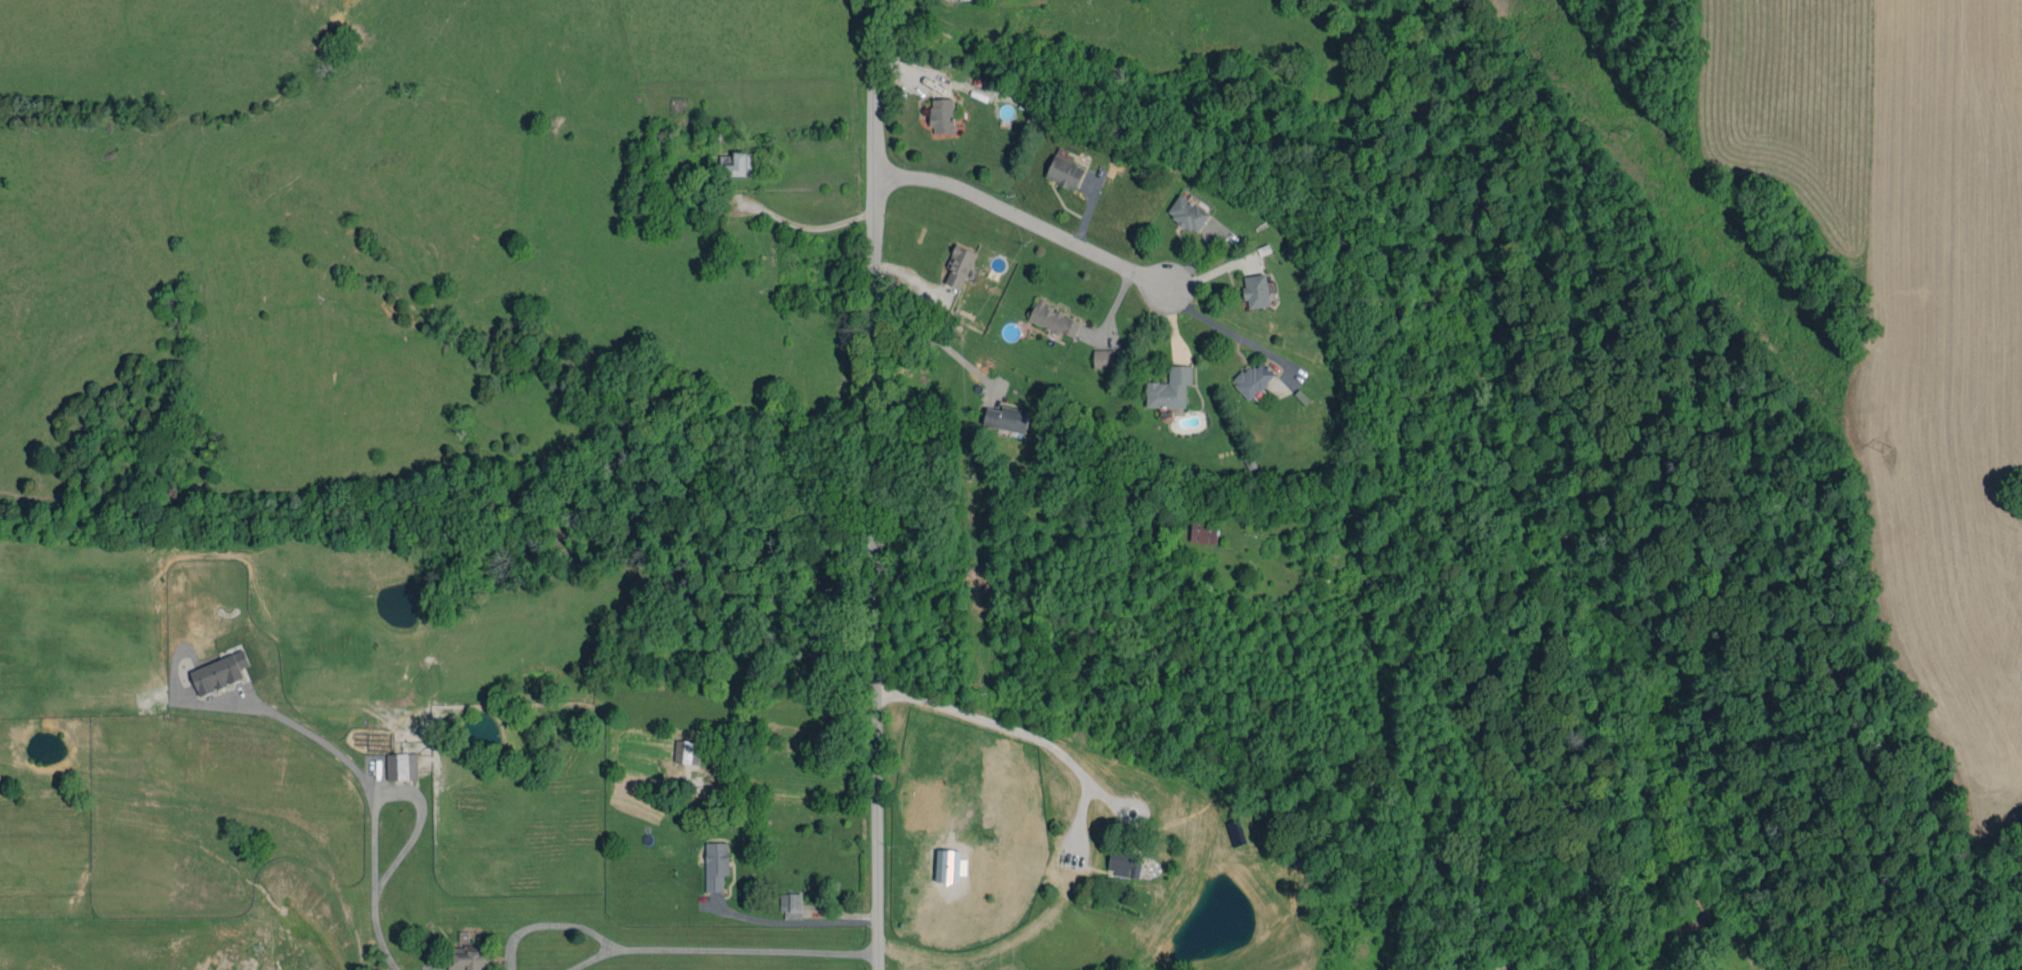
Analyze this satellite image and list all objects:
building: (1030, 107)
building: (942, 115)
power tower: (1626, 131)
building: (736, 164)
building: (1065, 172)
building: (1187, 213)
road: (1031, 223)
road: (804, 230)
building: (959, 266)
building: (1256, 291)
building: (1053, 320)
road: (928, 335)
road: (1247, 339)
building: (1104, 358)
building: (1253, 379)
building: (1170, 389)
building: (1007, 418)
power tower: (1885, 447)
road: (871, 485)
building: (220, 673)
building: (687, 752)
building: (402, 766)
building: (716, 865)
building: (1124, 865)
building: (949, 866)
building: (791, 906)
road: (794, 920)
road: (546, 922)
road: (995, 946)
road: (744, 948)
building: (469, 958)
road: (589, 958)

